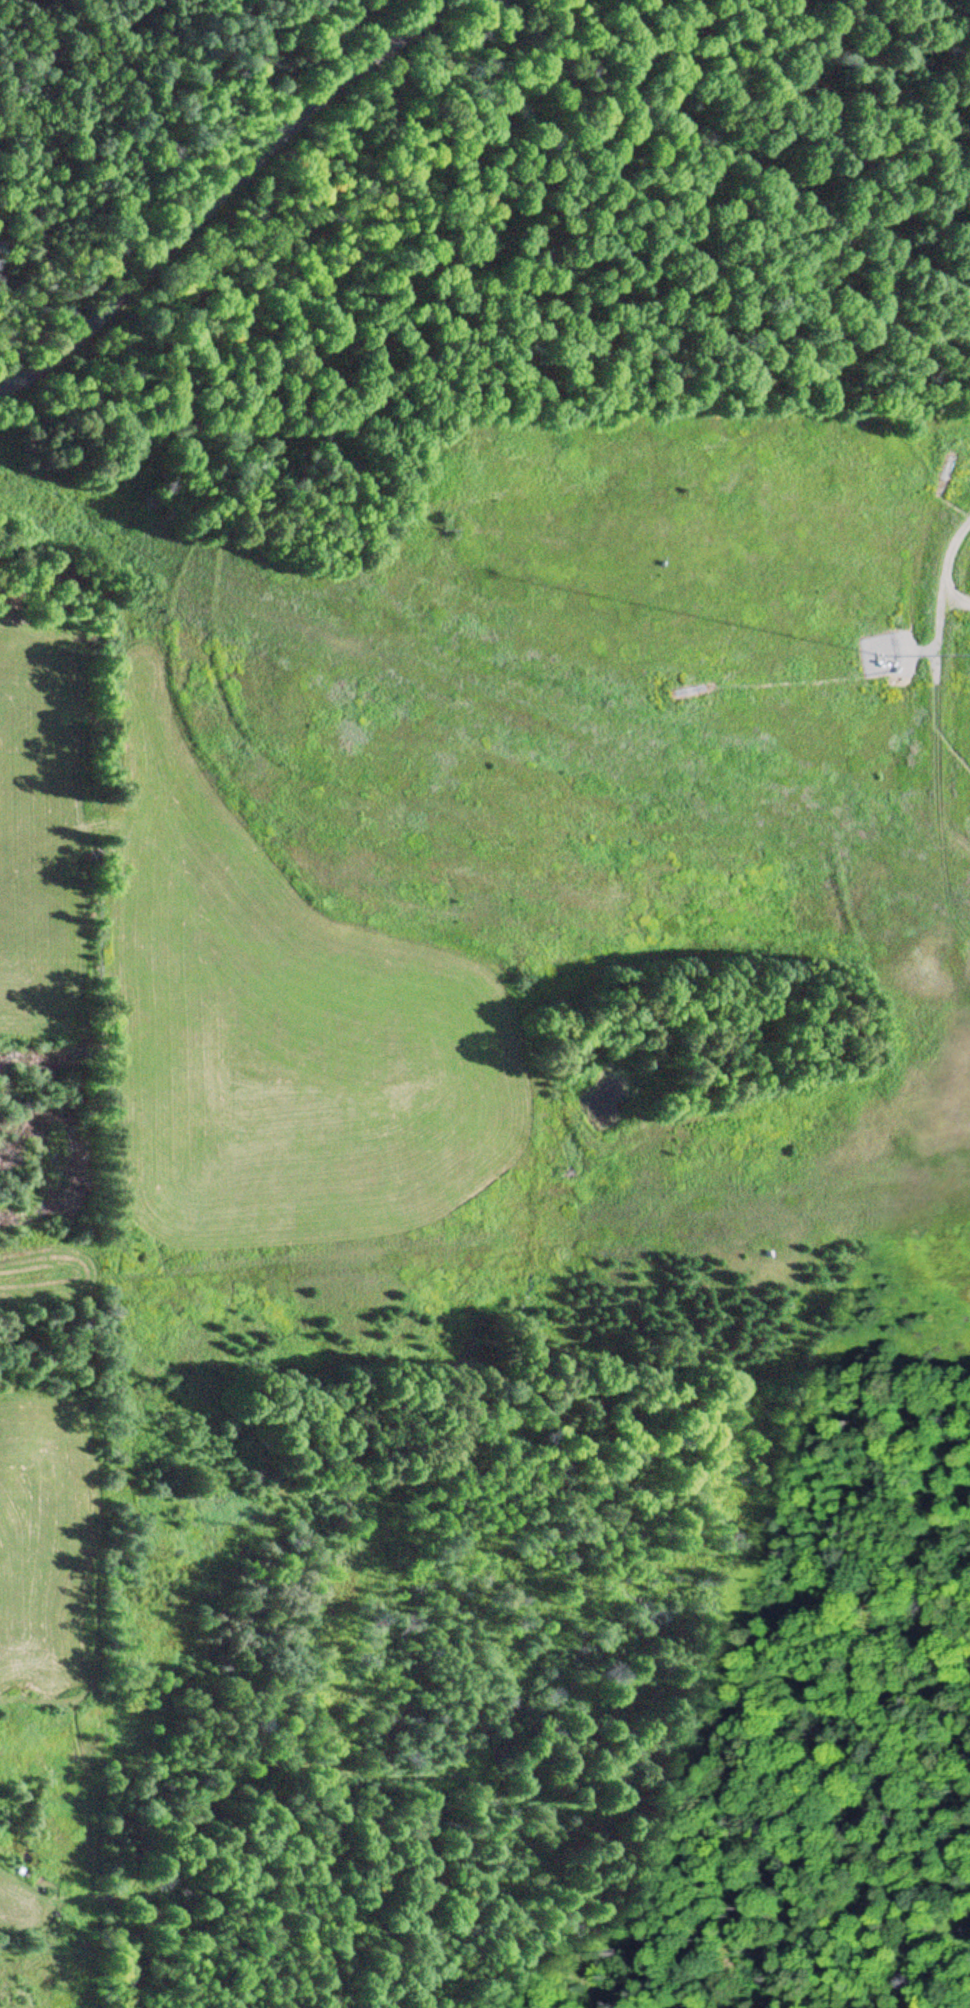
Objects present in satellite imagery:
road: (730, 171)
road: (239, 199)

